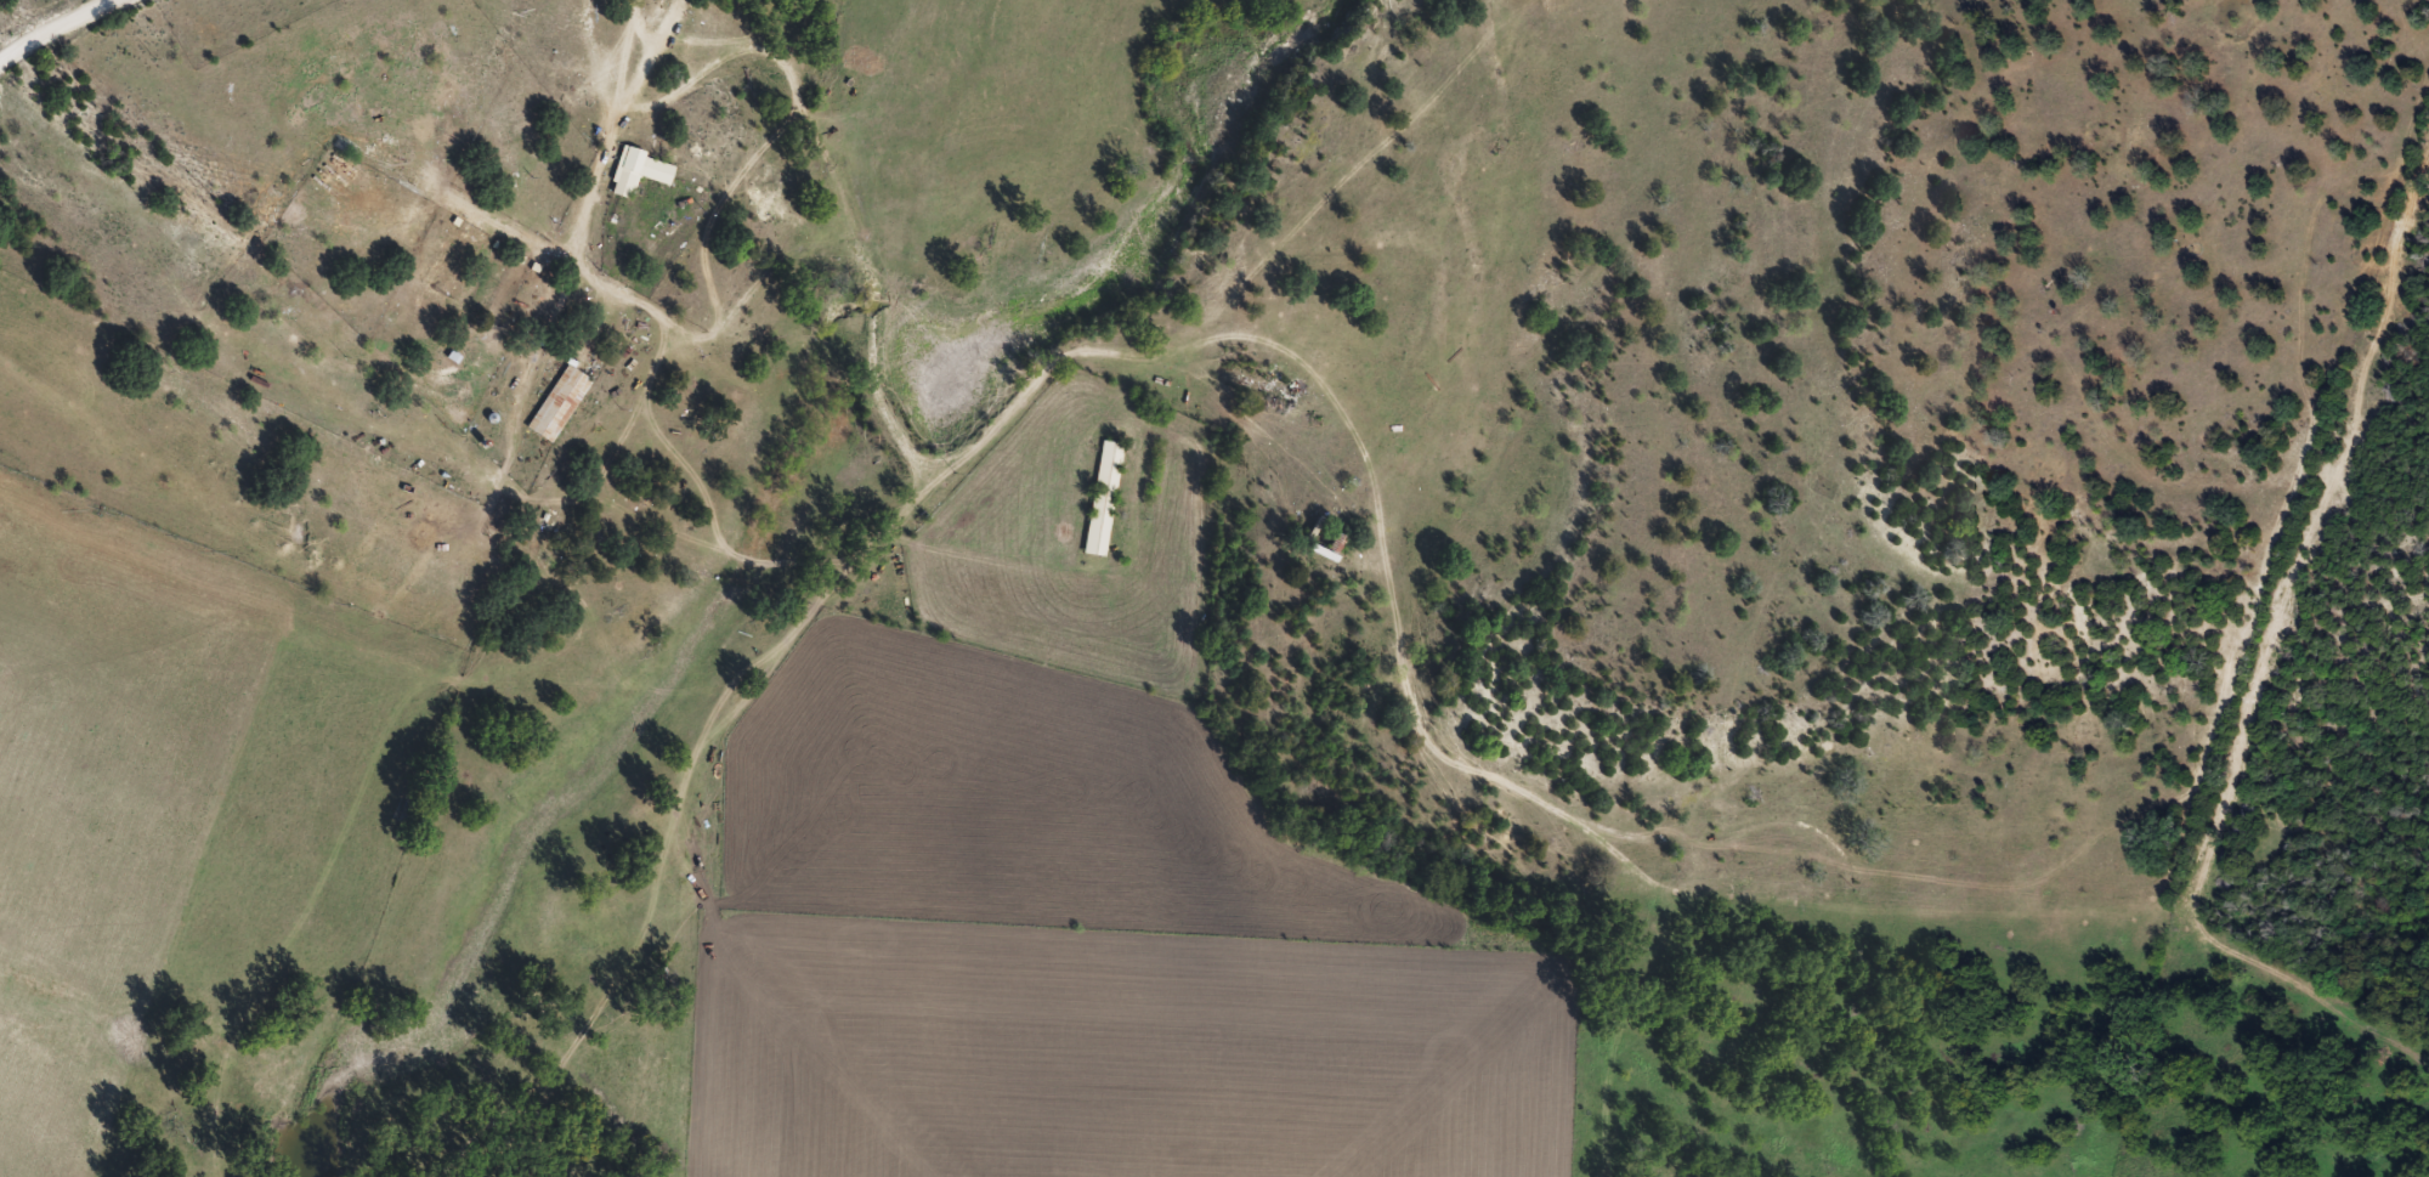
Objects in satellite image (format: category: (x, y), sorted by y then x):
road: (62, 28)
building: (632, 170)
building: (562, 400)
building: (632, 430)
building: (1100, 502)
building: (1335, 544)

